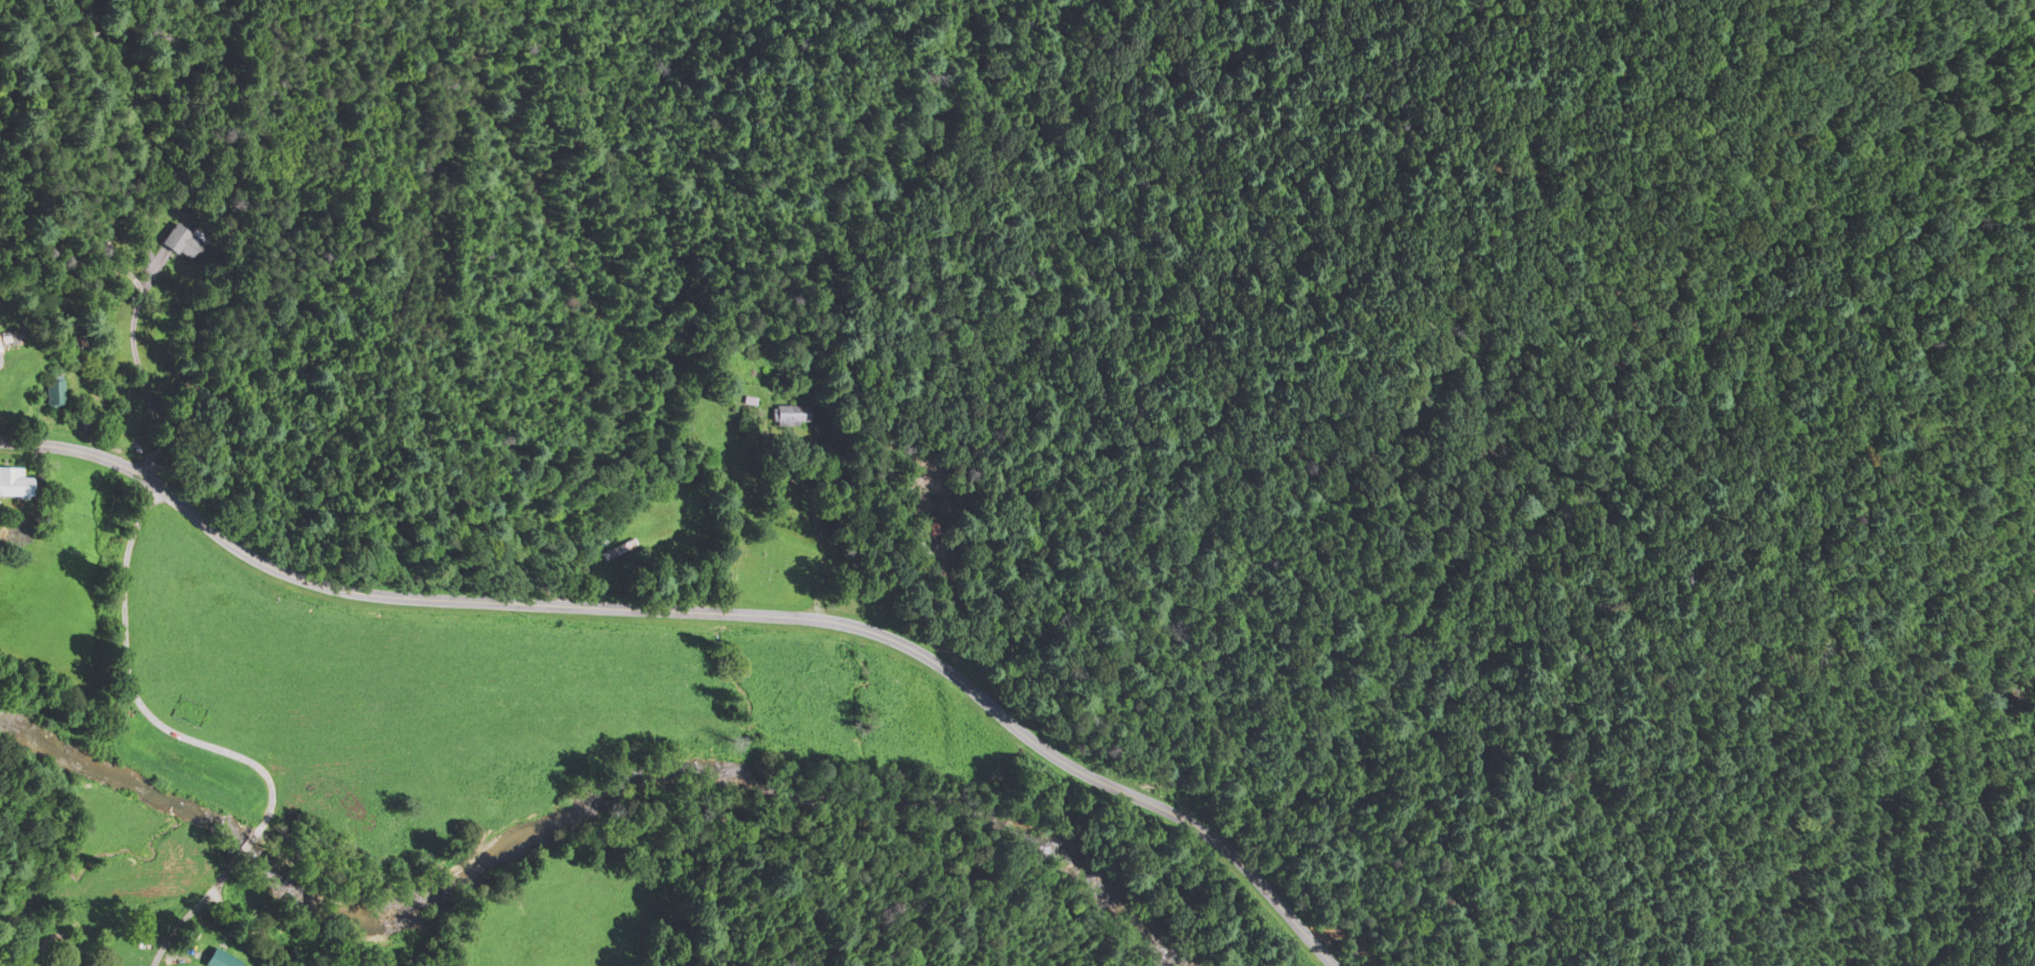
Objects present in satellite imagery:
building: (143, 239)
building: (181, 242)
building: (52, 395)
building: (789, 415)
road: (159, 448)
building: (12, 483)
building: (615, 551)
park: (774, 569)
road: (706, 609)
road: (246, 845)
road: (191, 908)
road: (106, 917)
road: (249, 929)

